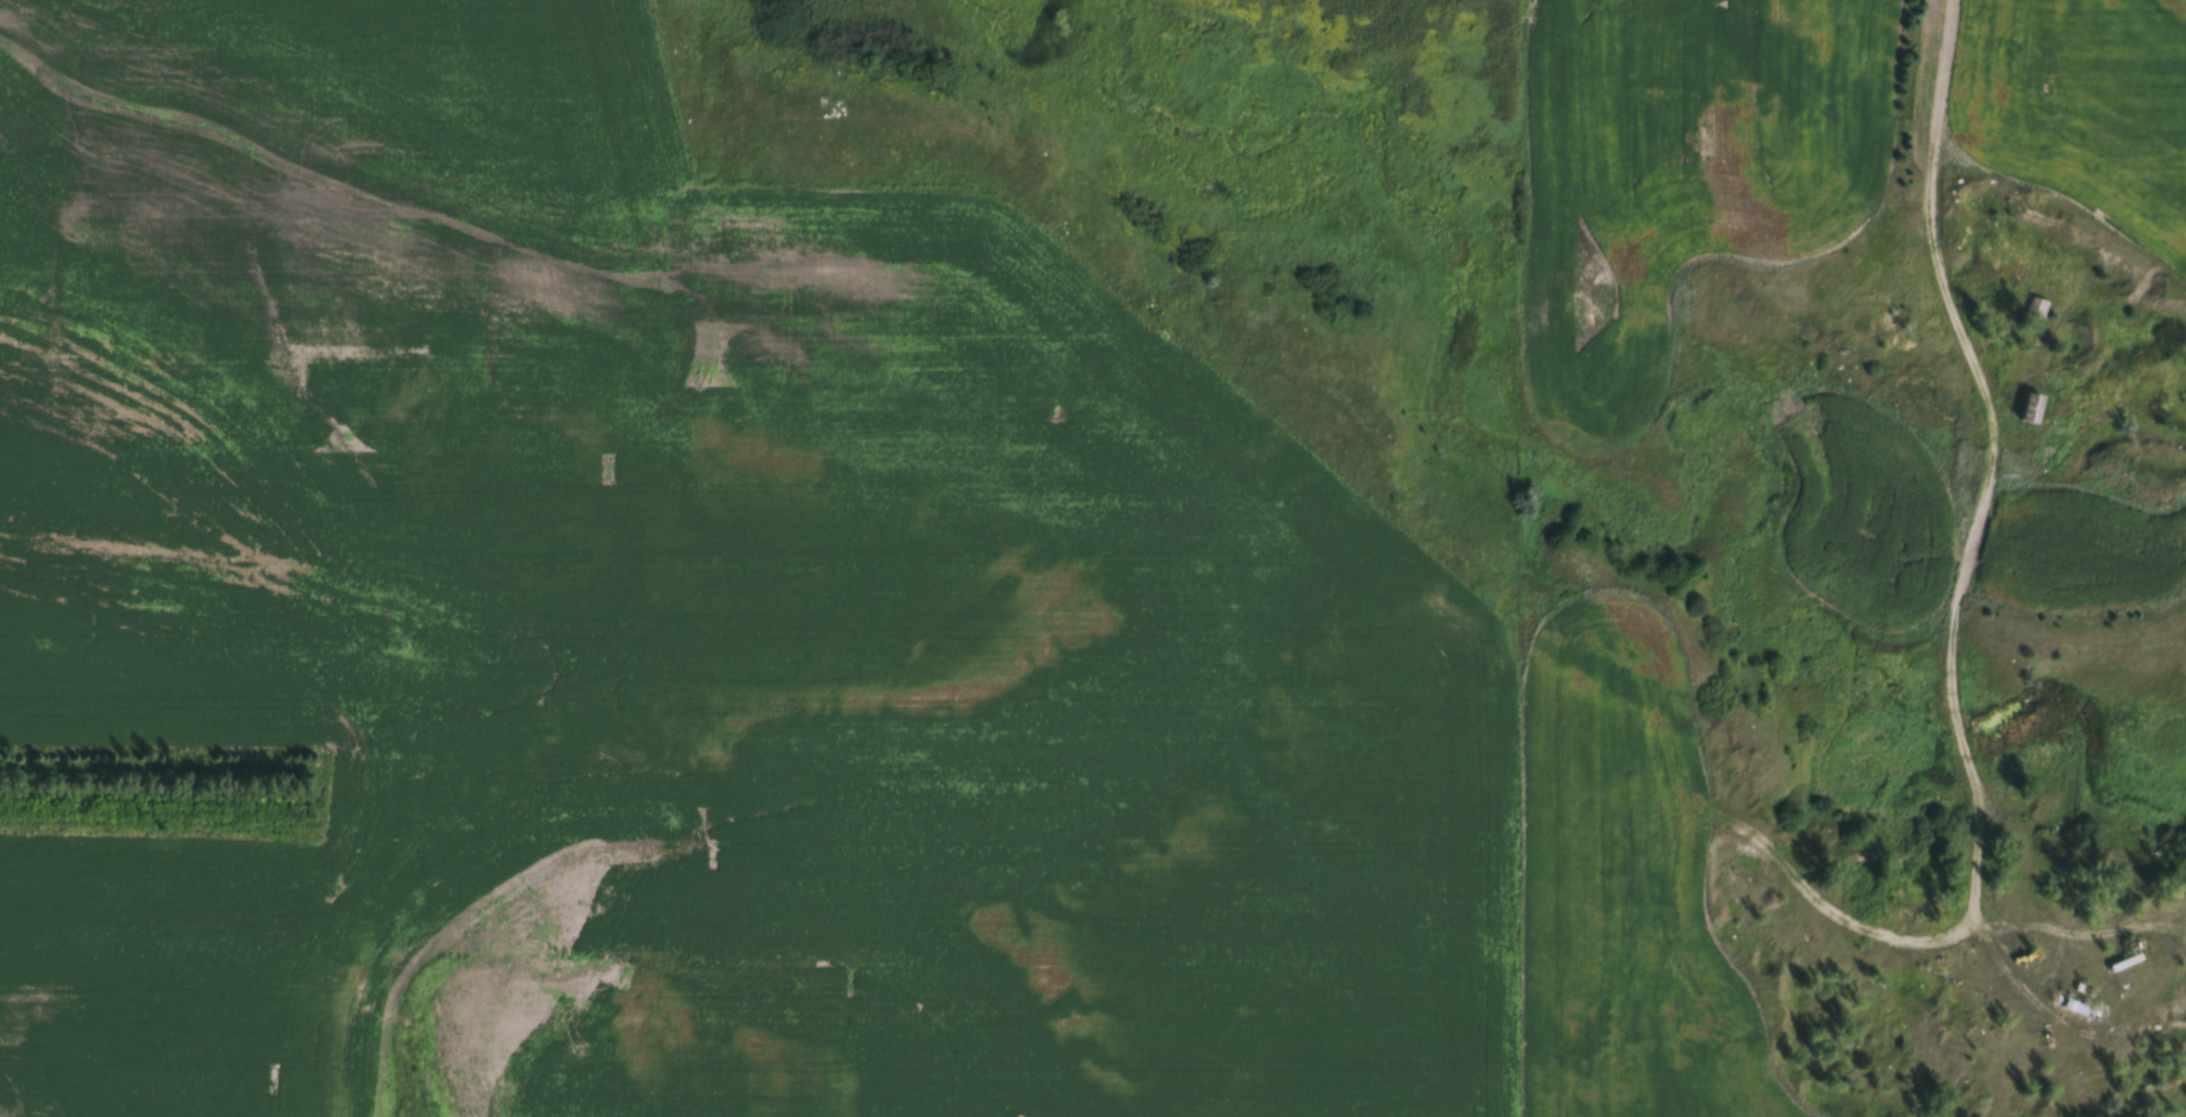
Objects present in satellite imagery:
building: (2034, 309)
building: (2028, 407)
building: (2075, 1007)

